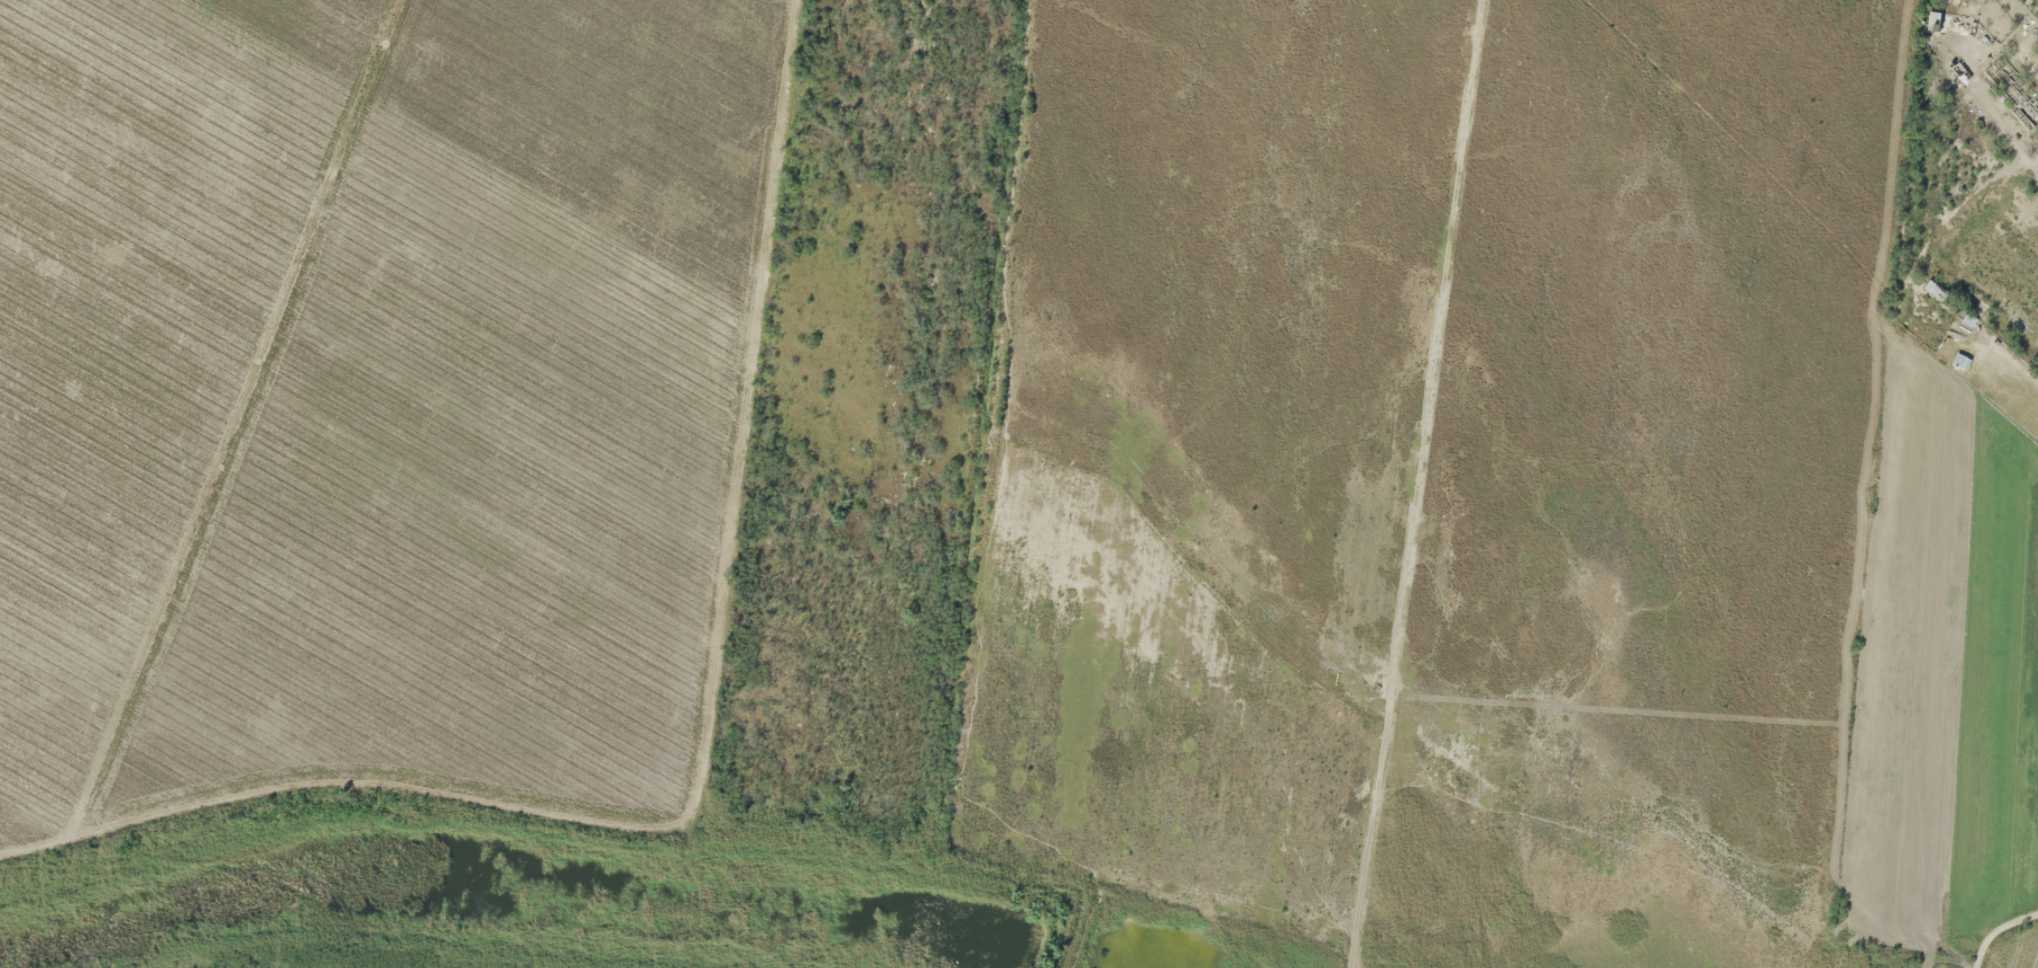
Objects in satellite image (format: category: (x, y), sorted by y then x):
road: (1995, 930)

